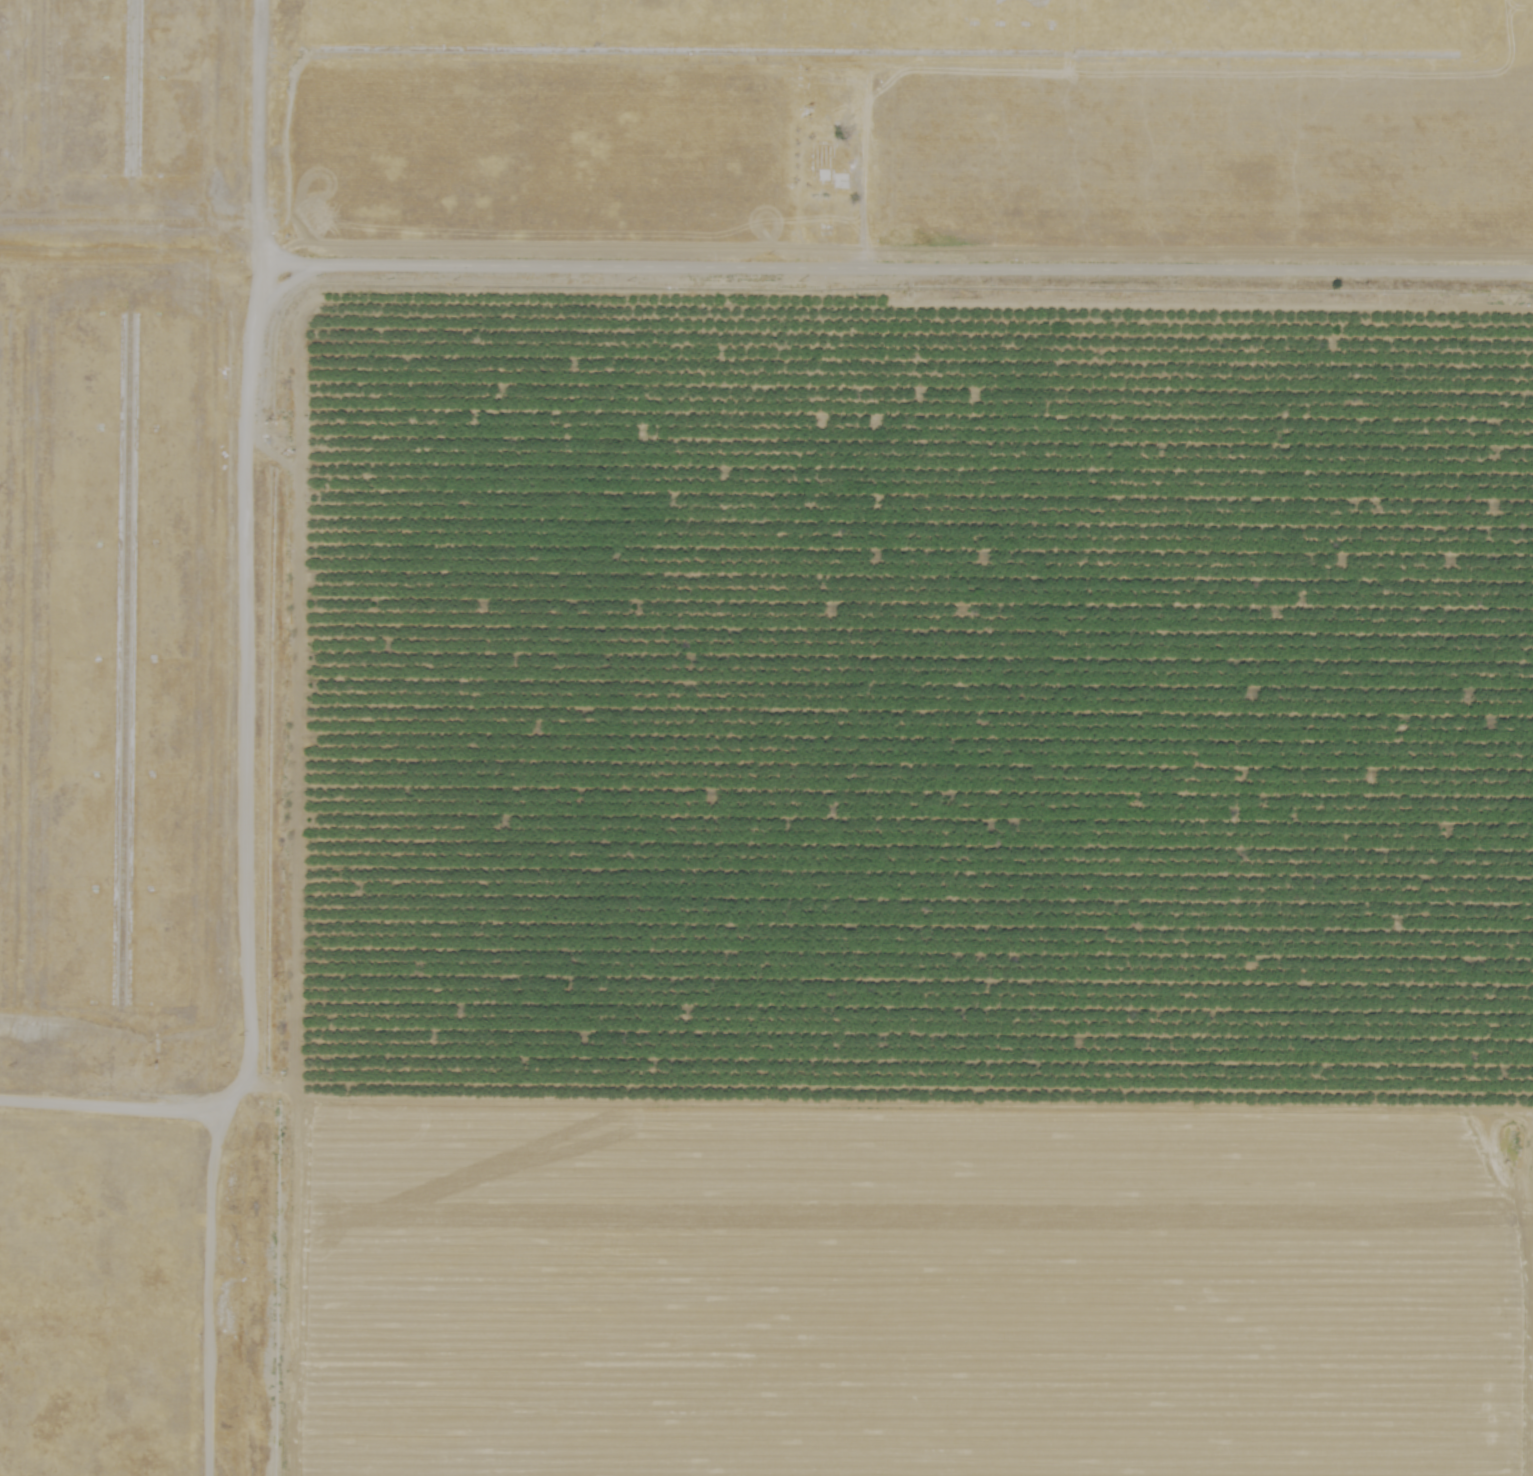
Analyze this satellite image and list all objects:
road: (252, 152)
road: (385, 273)
road: (124, 539)
crop: (891, 761)
road: (208, 1285)

